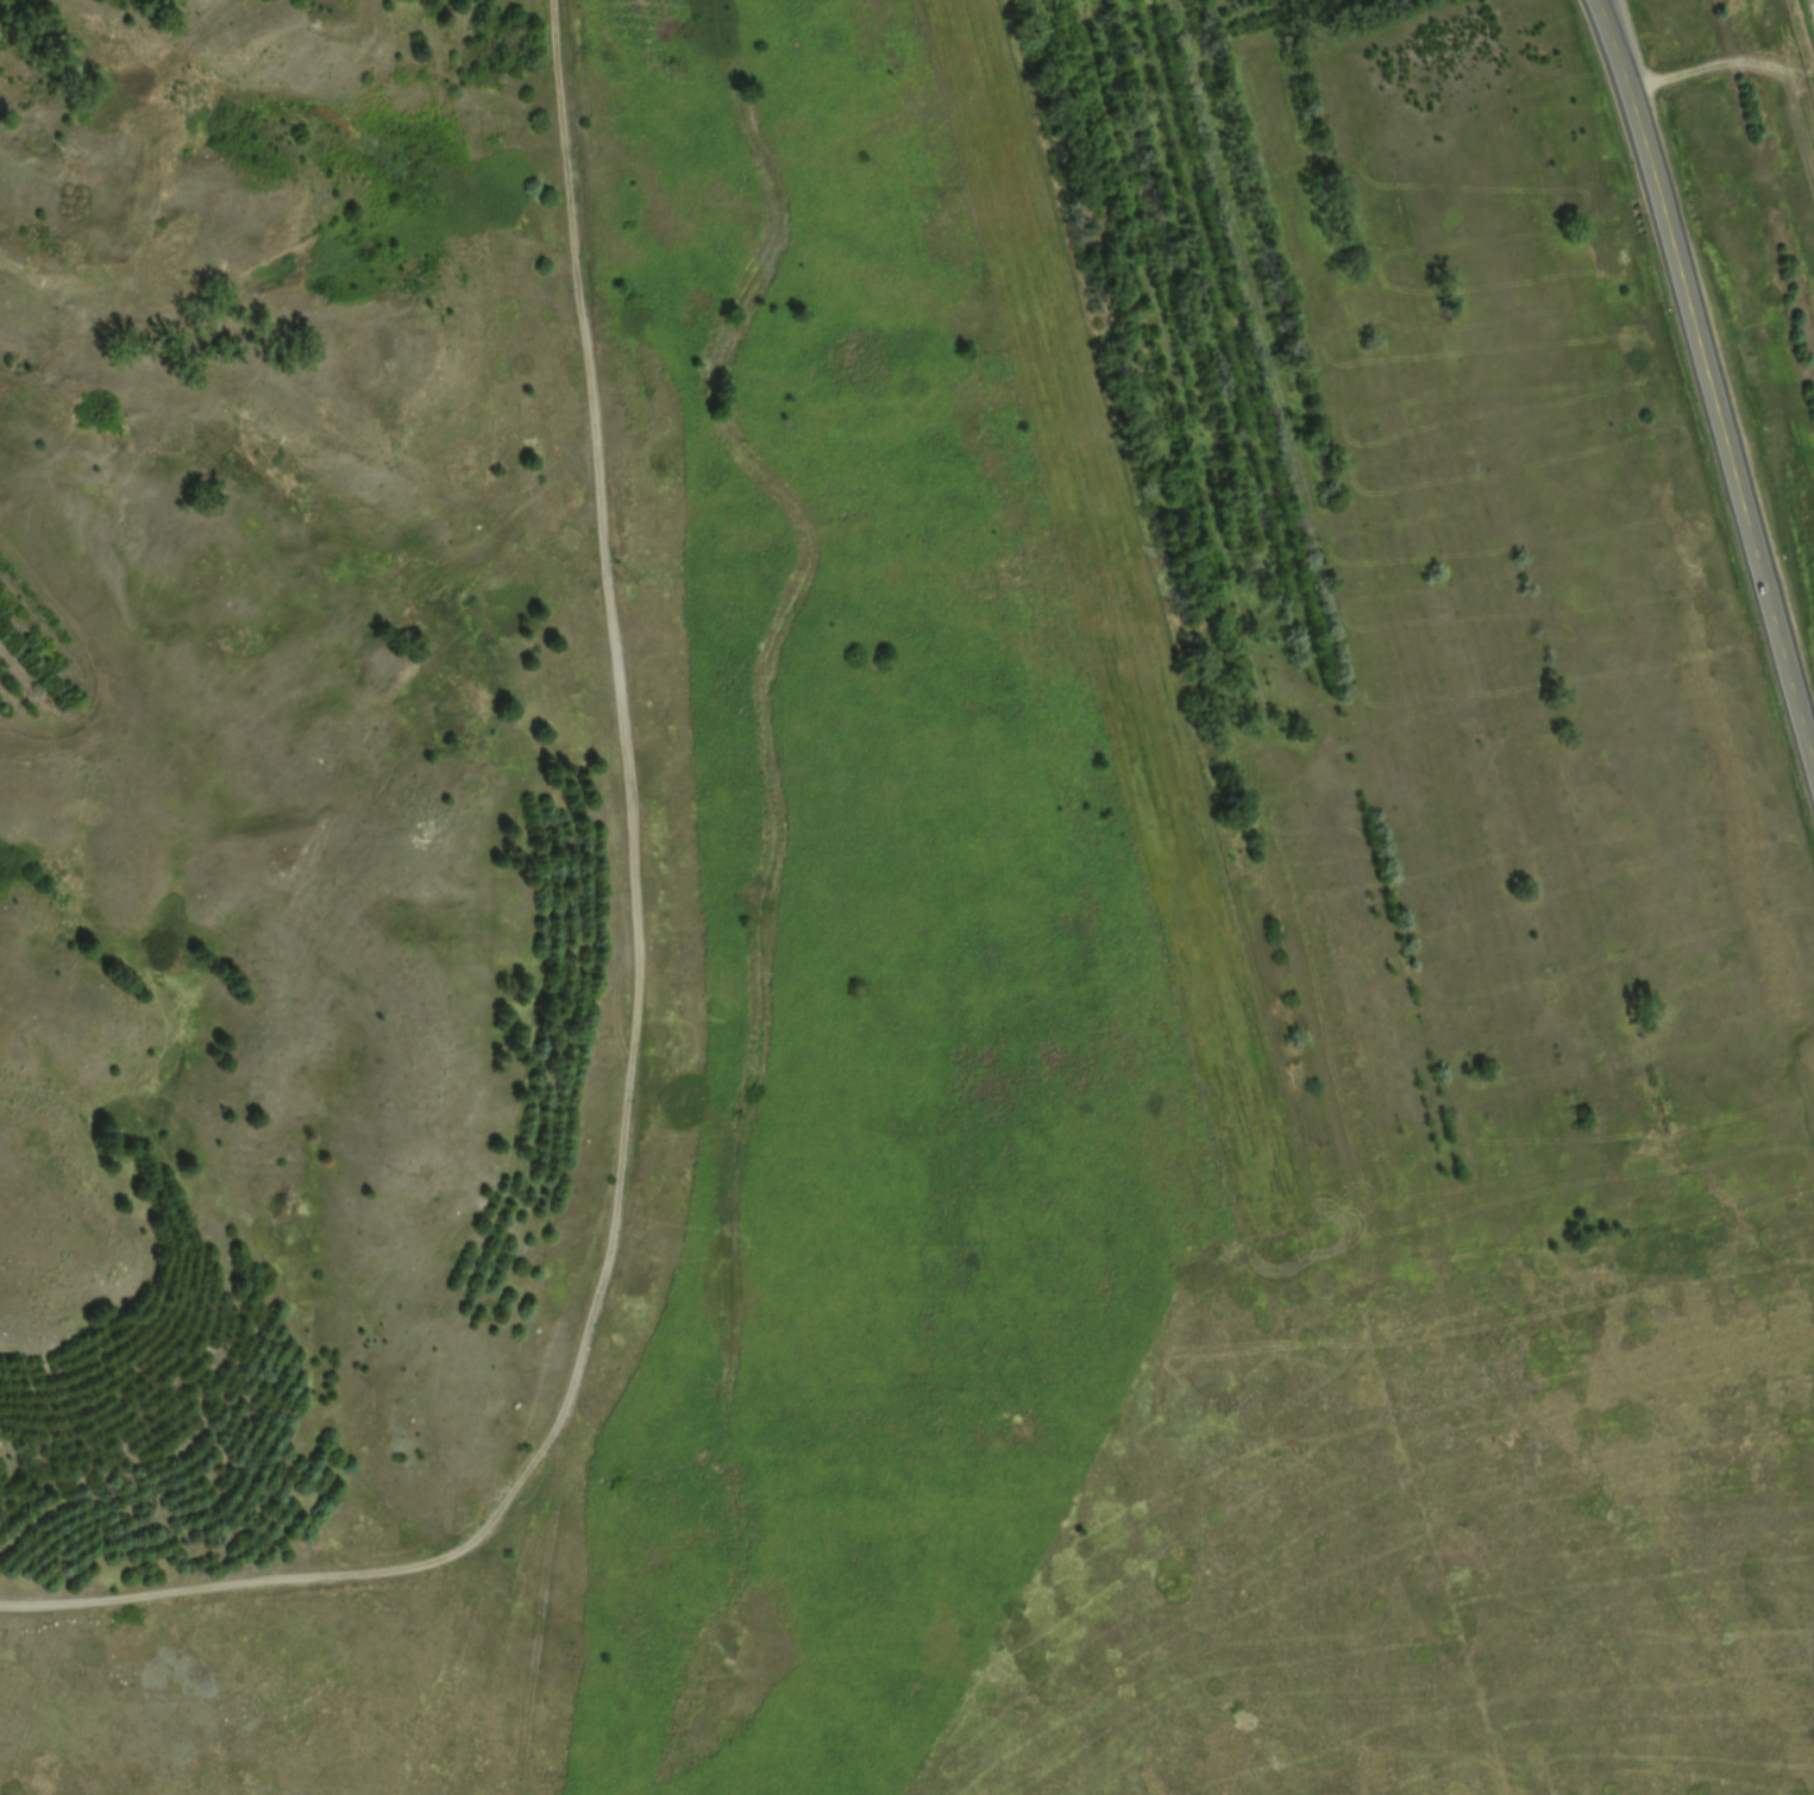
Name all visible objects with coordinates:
road: (1602, 11)
road: (1709, 382)

